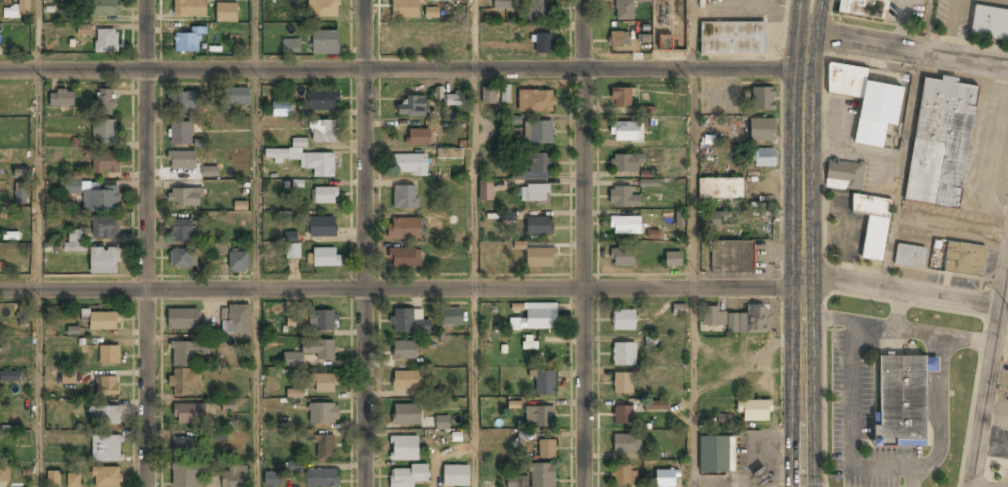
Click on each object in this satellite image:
building: (504, 4)
building: (104, 8)
building: (189, 8)
building: (323, 8)
building: (863, 8)
building: (18, 9)
building: (405, 9)
building: (542, 9)
building: (624, 10)
building: (227, 12)
building: (431, 12)
road: (809, 14)
building: (989, 23)
road: (926, 24)
building: (83, 29)
road: (38, 34)
road: (255, 34)
road: (476, 34)
road: (693, 34)
building: (454, 37)
building: (732, 37)
building: (619, 38)
building: (107, 41)
building: (544, 41)
building: (665, 41)
building: (187, 42)
building: (325, 42)
road: (907, 45)
building: (291, 46)
road: (402, 69)
building: (505, 93)
building: (489, 95)
building: (236, 96)
building: (62, 98)
building: (452, 98)
building: (622, 98)
building: (763, 98)
building: (324, 100)
building: (536, 101)
building: (867, 101)
building: (105, 102)
building: (183, 102)
building: (412, 105)
building: (282, 108)
building: (763, 129)
building: (104, 131)
building: (322, 131)
building: (181, 132)
building: (539, 132)
building: (627, 132)
building: (418, 136)
building: (941, 142)
building: (455, 153)
building: (763, 157)
building: (305, 158)
building: (181, 159)
building: (105, 162)
building: (411, 164)
building: (624, 164)
building: (537, 166)
road: (902, 167)
building: (210, 171)
building: (21, 173)
building: (845, 175)
building: (649, 183)
building: (721, 187)
building: (485, 190)
building: (535, 192)
building: (21, 193)
building: (95, 196)
building: (324, 196)
building: (405, 196)
building: (184, 197)
building: (623, 197)
building: (679, 218)
building: (715, 219)
building: (626, 224)
building: (873, 224)
building: (539, 226)
building: (105, 227)
building: (323, 227)
building: (405, 228)
building: (181, 230)
building: (74, 242)
road: (145, 243)
road: (365, 243)
road: (584, 243)
building: (293, 245)
building: (218, 248)
building: (622, 256)
building: (733, 256)
building: (910, 256)
building: (182, 257)
building: (325, 257)
building: (541, 257)
road: (802, 257)
building: (405, 258)
building: (674, 258)
building: (964, 258)
building: (104, 261)
building: (239, 261)
road: (38, 277)
road: (257, 277)
road: (693, 277)
road: (477, 278)
road: (401, 289)
road: (905, 290)
building: (679, 309)
building: (84, 315)
building: (22, 316)
building: (535, 316)
building: (714, 316)
building: (452, 317)
building: (183, 319)
building: (624, 319)
building: (755, 319)
building: (105, 320)
building: (236, 320)
building: (323, 321)
building: (409, 321)
building: (651, 341)
building: (405, 349)
building: (309, 352)
building: (624, 353)
building: (109, 354)
building: (185, 368)
road: (991, 371)
building: (10, 377)
building: (69, 377)
building: (407, 380)
building: (545, 382)
building: (325, 383)
building: (623, 383)
building: (107, 385)
building: (294, 393)
building: (907, 400)
building: (514, 405)
building: (226, 406)
building: (657, 406)
building: (756, 410)
building: (323, 413)
building: (105, 414)
building: (188, 414)
building: (406, 414)
building: (623, 415)
building: (540, 417)
building: (723, 420)
building: (444, 422)
building: (217, 435)
building: (628, 444)
building: (184, 445)
building: (324, 446)
building: (404, 448)
building: (107, 449)
building: (547, 449)
building: (714, 454)
building: (4, 474)
building: (762, 474)
building: (186, 475)
building: (407, 475)
building: (456, 475)
building: (543, 475)
building: (625, 475)
building: (234, 476)
building: (106, 477)
building: (322, 477)
building: (667, 478)
building: (53, 479)
building: (272, 479)
building: (73, 480)
building: (517, 481)

